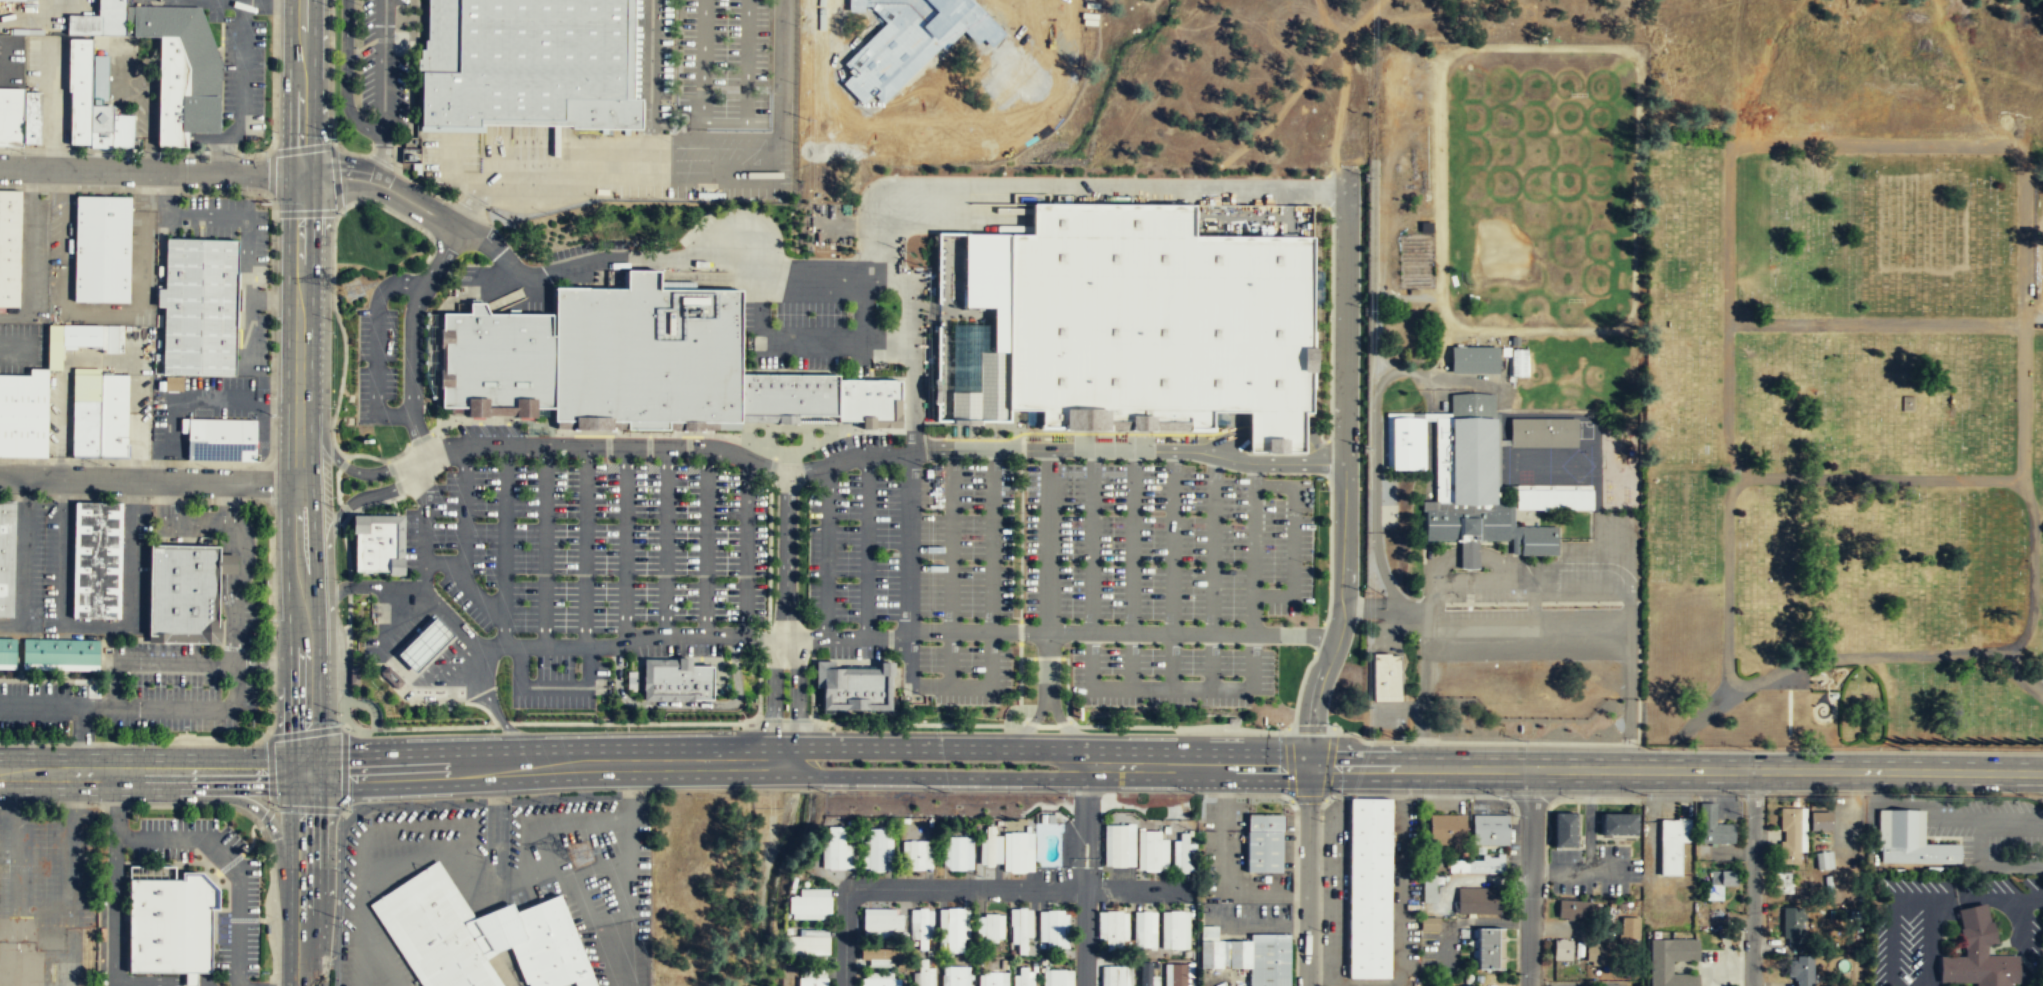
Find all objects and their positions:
building: (19, 0)
street lamp: (329, 9)
building: (100, 19)
road: (4, 56)
building: (187, 59)
road: (240, 61)
road: (384, 63)
parking lot: (724, 63)
building: (528, 65)
parking lot: (382, 67)
road: (781, 69)
road: (346, 77)
road: (300, 87)
building: (78, 89)
road: (649, 89)
building: (170, 93)
building: (10, 117)
building: (31, 118)
road: (723, 122)
street lamp: (329, 126)
road: (712, 138)
road: (226, 146)
street lamp: (22, 152)
parking lot: (447, 152)
street lamp: (156, 154)
road: (381, 155)
road: (1727, 164)
road: (149, 170)
traffic signals: (299, 175)
road: (606, 178)
road: (383, 185)
road: (1085, 186)
street lamp: (244, 189)
road: (169, 193)
road: (473, 203)
road: (961, 212)
street lamp: (274, 240)
road: (68, 241)
building: (9, 246)
building: (101, 248)
parking lot: (142, 248)
road: (498, 250)
road: (246, 252)
road: (26, 254)
road: (633, 258)
road: (815, 272)
road: (713, 279)
power tower: (351, 288)
road: (511, 295)
road: (139, 296)
road: (272, 299)
building: (199, 306)
road: (333, 306)
road: (864, 307)
building: (1156, 322)
road: (1875, 323)
parking lot: (250, 326)
street lamp: (331, 331)
building: (81, 339)
road: (793, 339)
road: (14, 345)
road: (377, 345)
building: (648, 352)
building: (497, 359)
building: (1473, 359)
building: (1518, 362)
parking lot: (375, 364)
building: (173, 383)
building: (23, 393)
street lamp: (273, 394)
building: (790, 394)
road: (212, 396)
building: (870, 399)
street lamp: (331, 406)
road: (435, 414)
building: (85, 415)
building: (112, 416)
building: (1542, 432)
building: (22, 435)
building: (220, 439)
building: (1405, 442)
road: (421, 444)
park: (1842, 445)
building: (1471, 448)
road: (912, 452)
road: (874, 455)
road: (340, 463)
road: (1344, 473)
road: (298, 475)
road: (1884, 479)
road: (149, 480)
road: (395, 483)
street lamp: (333, 496)
building: (1552, 496)
road: (370, 504)
road: (1506, 508)
street lamp: (272, 519)
road: (177, 522)
building: (1465, 524)
road: (665, 539)
parking lot: (964, 540)
building: (1538, 540)
road: (706, 541)
road: (1294, 541)
road: (625, 542)
road: (461, 543)
parking lot: (1165, 543)
road: (504, 544)
road: (544, 544)
building: (374, 545)
road: (585, 545)
parking lot: (590, 546)
road: (866, 546)
parking lot: (853, 548)
road: (746, 549)
road: (826, 552)
road: (398, 554)
building: (6, 555)
road: (786, 555)
building: (95, 558)
road: (328, 558)
road: (22, 561)
road: (441, 565)
road: (951, 567)
road: (243, 570)
road: (1133, 570)
road: (1171, 570)
road: (1212, 572)
road: (1049, 574)
street lamp: (339, 580)
road: (375, 587)
building: (182, 592)
parking lot: (237, 605)
street lamp: (273, 618)
road: (348, 620)
road: (95, 624)
road: (907, 633)
road: (989, 634)
building: (425, 643)
gas station: (425, 643)
building: (7, 649)
building: (60, 651)
parking lot: (856, 652)
road: (154, 662)
street lamp: (764, 666)
parking lot: (963, 673)
road: (2021, 674)
building: (392, 676)
parking lot: (1170, 676)
building: (683, 679)
building: (1386, 679)
parking lot: (1789, 680)
road: (553, 686)
building: (857, 688)
road: (773, 689)
road: (797, 689)
road: (1165, 689)
street lamp: (344, 691)
road: (1827, 693)
road: (75, 703)
road: (683, 703)
street lamp: (763, 703)
road: (214, 706)
parking lot: (50, 707)
road: (1705, 710)
road: (1787, 712)
road: (497, 713)
street lamp: (273, 715)
road: (1029, 725)
road: (1068, 732)
road: (930, 748)
road: (783, 751)
road: (1189, 767)
road: (549, 768)
traffic signals: (1309, 768)
road: (1676, 769)
road: (152, 772)
traffic signals: (305, 775)
road: (932, 776)
street lamp: (1501, 797)
street lamp: (97, 803)
road: (250, 804)
road: (562, 821)
building: (1820, 822)
building: (1619, 825)
building: (1715, 828)
building: (1446, 829)
building: (1489, 830)
building: (1565, 830)
building: (1790, 836)
building: (1909, 841)
building: (1264, 843)
building: (990, 845)
building: (1117, 845)
building: (835, 846)
building: (1671, 848)
building: (876, 849)
building: (1150, 850)
building: (1018, 851)
building: (957, 852)
building: (1183, 852)
building: (916, 854)
road: (438, 855)
power tower: (581, 856)
road: (233, 861)
building: (1823, 861)
street lamp: (336, 865)
building: (1475, 865)
road: (1086, 876)
road: (1309, 877)
road: (1529, 877)
road: (1752, 877)
road: (305, 880)
road: (114, 882)
building: (1719, 883)
building: (1784, 884)
road: (968, 888)
building: (1369, 888)
building: (1428, 890)
building: (1478, 901)
building: (810, 904)
building: (1573, 911)
street lamp: (269, 915)
building: (1666, 919)
building: (883, 921)
building: (170, 924)
building: (1428, 924)
building: (991, 927)
building: (922, 928)
building: (1056, 928)
building: (1144, 928)
building: (1174, 928)
building: (956, 929)
building: (1793, 929)
building: (1022, 930)
building: (1112, 930)
building: (436, 931)
building: (1627, 935)
building: (807, 944)
building: (546, 945)
building: (1487, 948)
building: (1562, 950)
building: (883, 954)
building: (1977, 954)
building: (1594, 955)
building: (1249, 956)
street lamp: (331, 962)
building: (1661, 968)
building: (922, 971)
building: (1144, 972)
building: (1803, 972)
building: (1177, 974)
building: (1113, 975)
building: (956, 976)
building: (1023, 976)
road: (164, 977)
building: (1057, 977)
building: (992, 978)
building: (813, 981)
building: (881, 982)
road: (154, 984)

